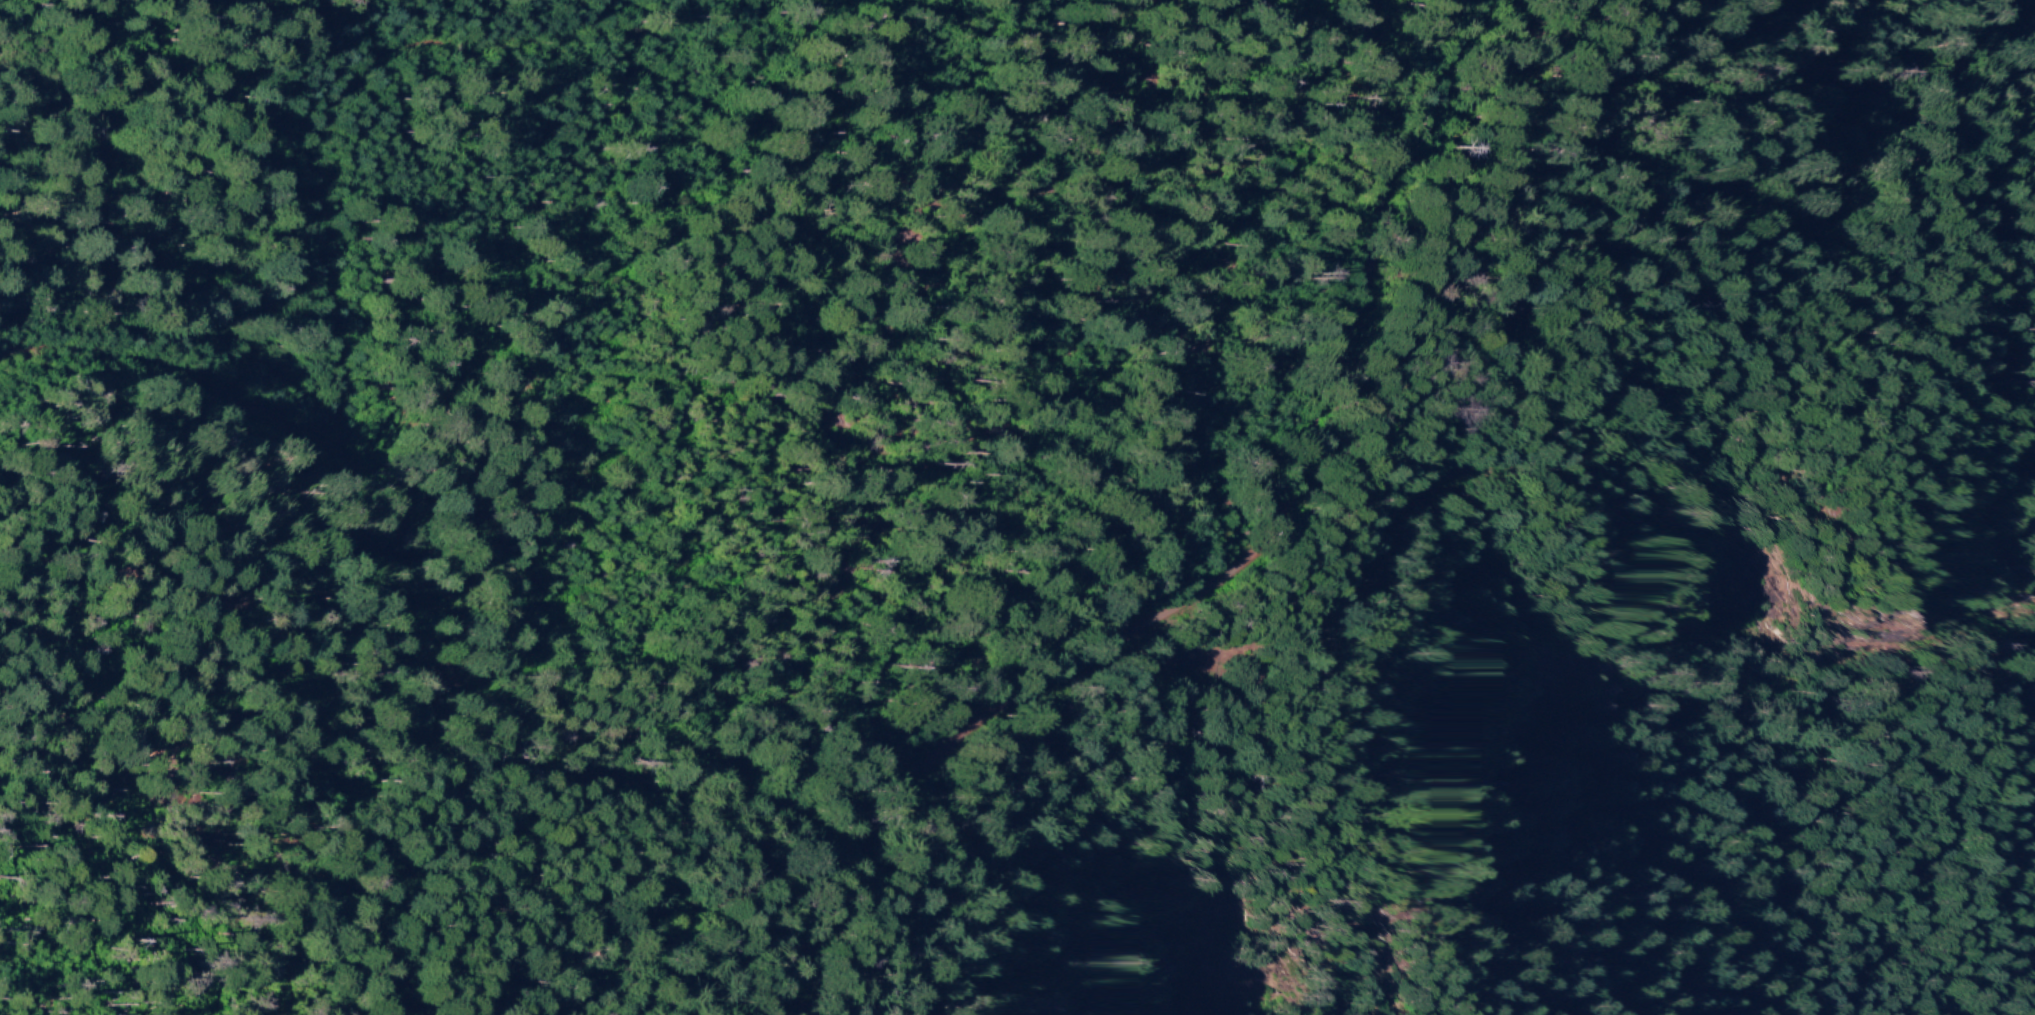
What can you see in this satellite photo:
road: (310, 325)

